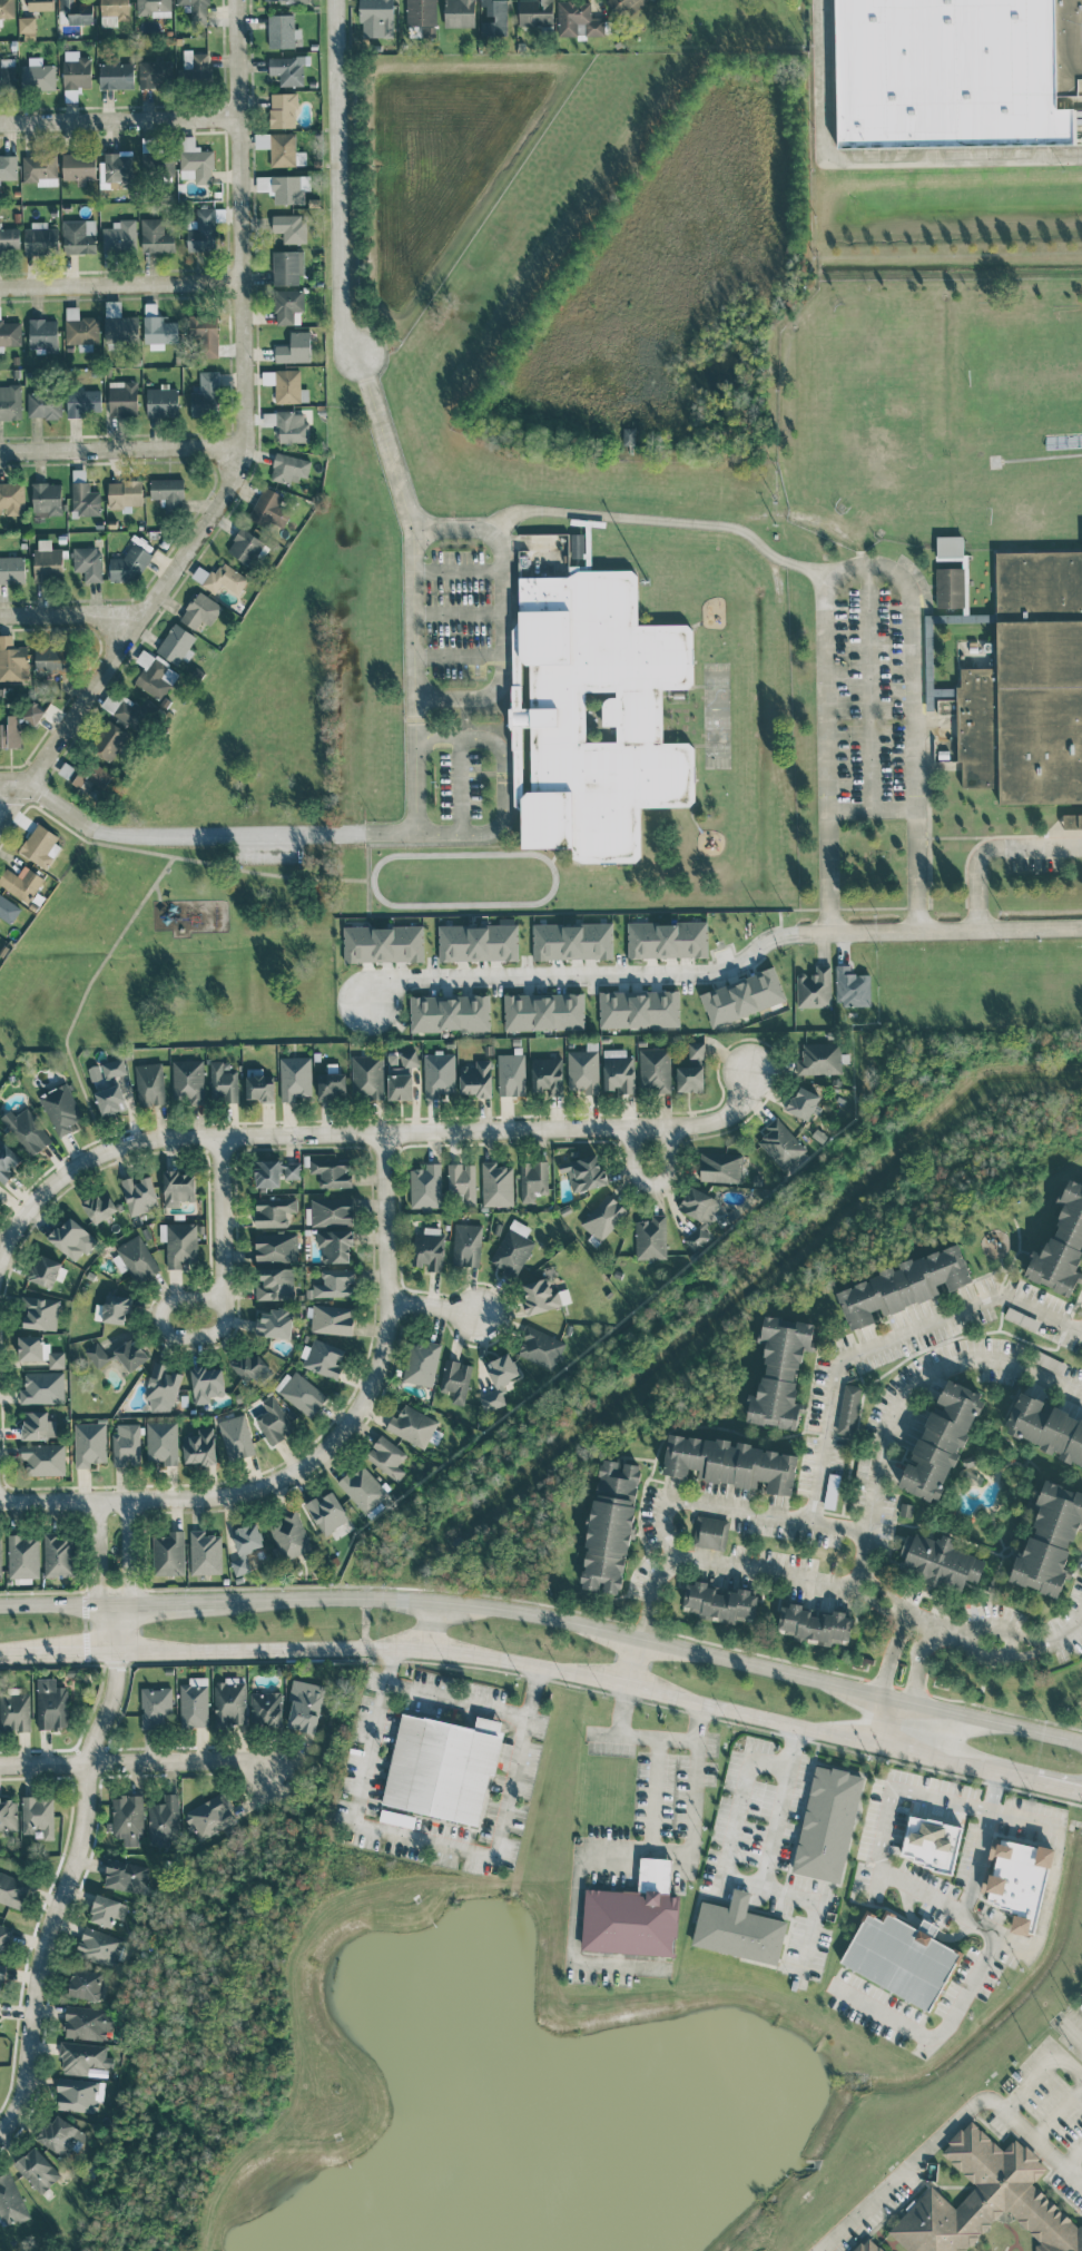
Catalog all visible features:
building: (284, 0)
building: (40, 4)
building: (154, 7)
building: (622, 7)
building: (7, 8)
building: (197, 9)
building: (114, 11)
building: (75, 12)
building: (535, 12)
building: (459, 13)
building: (378, 14)
building: (420, 17)
building: (493, 18)
building: (578, 19)
building: (27, 26)
building: (283, 31)
building: (196, 65)
building: (288, 69)
building: (76, 70)
building: (956, 71)
building: (155, 73)
building: (7, 75)
building: (116, 76)
building: (39, 77)
building: (1069, 101)
building: (283, 109)
road: (120, 121)
building: (281, 148)
road: (876, 158)
building: (195, 160)
building: (158, 161)
building: (8, 167)
building: (79, 167)
building: (118, 167)
building: (39, 169)
road: (337, 184)
building: (289, 188)
building: (289, 227)
building: (201, 230)
building: (79, 236)
building: (156, 236)
building: (119, 237)
building: (41, 238)
building: (287, 266)
road: (121, 283)
building: (288, 306)
building: (159, 326)
building: (80, 330)
building: (10, 332)
building: (205, 333)
building: (42, 334)
building: (294, 347)
building: (286, 385)
building: (206, 395)
building: (122, 397)
building: (161, 401)
building: (10, 402)
building: (83, 402)
building: (43, 404)
building: (292, 426)
building: (629, 435)
road: (245, 446)
road: (122, 449)
building: (289, 468)
building: (168, 491)
building: (125, 494)
building: (11, 499)
building: (47, 499)
building: (85, 499)
building: (269, 509)
road: (666, 521)
building: (245, 547)
building: (950, 547)
building: (48, 561)
building: (88, 562)
road: (868, 562)
building: (128, 566)
building: (12, 569)
road: (459, 573)
building: (220, 578)
building: (950, 587)
road: (416, 593)
building: (200, 610)
road: (459, 613)
road: (502, 615)
road: (69, 616)
road: (919, 620)
building: (176, 643)
building: (928, 647)
road: (460, 656)
building: (12, 660)
building: (51, 660)
building: (154, 675)
building: (1026, 682)
road: (869, 686)
road: (927, 687)
road: (921, 694)
building: (125, 709)
building: (32, 714)
building: (600, 715)
road: (943, 725)
building: (11, 731)
building: (109, 740)
building: (92, 778)
road: (460, 785)
road: (48, 800)
road: (22, 802)
road: (872, 809)
building: (1072, 820)
road: (380, 834)
building: (40, 845)
road: (992, 847)
road: (188, 858)
road: (367, 875)
building: (21, 882)
road: (157, 892)
park: (198, 897)
building: (8, 910)
road: (760, 910)
road: (944, 932)
building: (667, 938)
building: (572, 941)
building: (478, 942)
building: (383, 943)
road: (588, 973)
building: (852, 986)
building: (814, 987)
road: (83, 994)
building: (742, 996)
building: (639, 1009)
building: (543, 1011)
building: (449, 1012)
building: (819, 1058)
building: (583, 1069)
building: (655, 1069)
building: (691, 1069)
building: (619, 1071)
building: (401, 1074)
building: (439, 1074)
building: (511, 1074)
building: (547, 1074)
building: (367, 1075)
building: (295, 1078)
building: (476, 1079)
building: (188, 1080)
building: (150, 1083)
building: (223, 1083)
building: (108, 1085)
building: (332, 1085)
building: (258, 1088)
building: (803, 1102)
building: (60, 1109)
building: (27, 1130)
road: (362, 1133)
building: (780, 1144)
building: (8, 1161)
building: (720, 1167)
building: (332, 1171)
building: (275, 1172)
building: (583, 1172)
building: (533, 1179)
building: (462, 1181)
building: (496, 1185)
road: (651, 1185)
building: (425, 1186)
building: (178, 1187)
building: (139, 1195)
building: (99, 1207)
building: (274, 1210)
building: (332, 1211)
building: (698, 1213)
building: (603, 1217)
building: (650, 1238)
building: (72, 1239)
building: (179, 1244)
building: (335, 1245)
building: (466, 1245)
building: (1061, 1246)
building: (276, 1247)
building: (429, 1248)
building: (513, 1248)
building: (135, 1259)
building: (45, 1270)
building: (335, 1282)
building: (275, 1284)
building: (904, 1285)
building: (542, 1296)
road: (219, 1300)
road: (436, 1307)
building: (112, 1309)
building: (39, 1313)
building: (332, 1319)
building: (274, 1323)
road: (885, 1340)
building: (540, 1347)
building: (38, 1350)
building: (131, 1354)
building: (97, 1355)
building: (323, 1358)
building: (1047, 1360)
building: (422, 1363)
building: (249, 1366)
building: (780, 1372)
building: (455, 1379)
building: (499, 1379)
building: (207, 1383)
building: (42, 1387)
building: (163, 1387)
building: (301, 1393)
building: (848, 1409)
building: (273, 1421)
building: (38, 1425)
building: (414, 1426)
building: (1046, 1427)
building: (236, 1437)
building: (163, 1441)
building: (941, 1441)
building: (89, 1443)
building: (126, 1445)
building: (199, 1446)
road: (323, 1447)
building: (386, 1456)
building: (43, 1458)
building: (730, 1463)
road: (873, 1482)
building: (362, 1487)
building: (832, 1491)
road: (734, 1510)
building: (327, 1512)
building: (610, 1525)
building: (710, 1532)
building: (289, 1535)
building: (1050, 1539)
building: (245, 1545)
road: (122, 1552)
building: (205, 1552)
road: (101, 1553)
building: (168, 1553)
building: (58, 1555)
building: (22, 1556)
building: (0, 1559)
building: (940, 1561)
road: (653, 1581)
road: (859, 1582)
road: (169, 1601)
building: (719, 1601)
road: (58, 1603)
road: (895, 1611)
road: (918, 1621)
road: (928, 1623)
road: (642, 1624)
building: (815, 1624)
road: (430, 1625)
road: (994, 1628)
road: (1064, 1633)
road: (1021, 1636)
road: (1036, 1639)
road: (656, 1641)
road: (1010, 1645)
road: (1039, 1645)
road: (974, 1649)
road: (70, 1652)
road: (11, 1653)
road: (1021, 1653)
road: (633, 1661)
road: (579, 1674)
road: (454, 1698)
building: (194, 1702)
building: (229, 1702)
building: (51, 1703)
building: (305, 1706)
building: (155, 1707)
building: (265, 1708)
building: (14, 1712)
road: (887, 1720)
road: (650, 1734)
road: (136, 1762)
building: (442, 1766)
road: (1058, 1786)
road: (992, 1790)
road: (954, 1801)
road: (889, 1807)
road: (982, 1808)
road: (688, 1810)
building: (8, 1815)
building: (38, 1815)
building: (209, 1815)
building: (127, 1818)
building: (396, 1818)
road: (736, 1818)
building: (164, 1820)
building: (827, 1824)
road: (429, 1840)
building: (931, 1842)
road: (975, 1860)
road: (581, 1862)
road: (1053, 1867)
road: (70, 1870)
road: (764, 1871)
building: (125, 1876)
building: (1017, 1881)
building: (12, 1889)
building: (107, 1910)
building: (633, 1915)
building: (738, 1929)
building: (3, 1937)
building: (99, 1946)
building: (901, 1957)
road: (976, 1970)
building: (1, 1975)
building: (86, 1984)
building: (0, 2001)
building: (1080, 2006)
building: (87, 2023)
road: (1075, 2036)
building: (83, 2057)
road: (1044, 2073)
building: (78, 2095)
road: (1060, 2114)
road: (948, 2129)
building: (62, 2136)
road: (1074, 2159)
building: (37, 2169)
building: (10, 2201)
building: (988, 2204)
building: (867, 2245)

